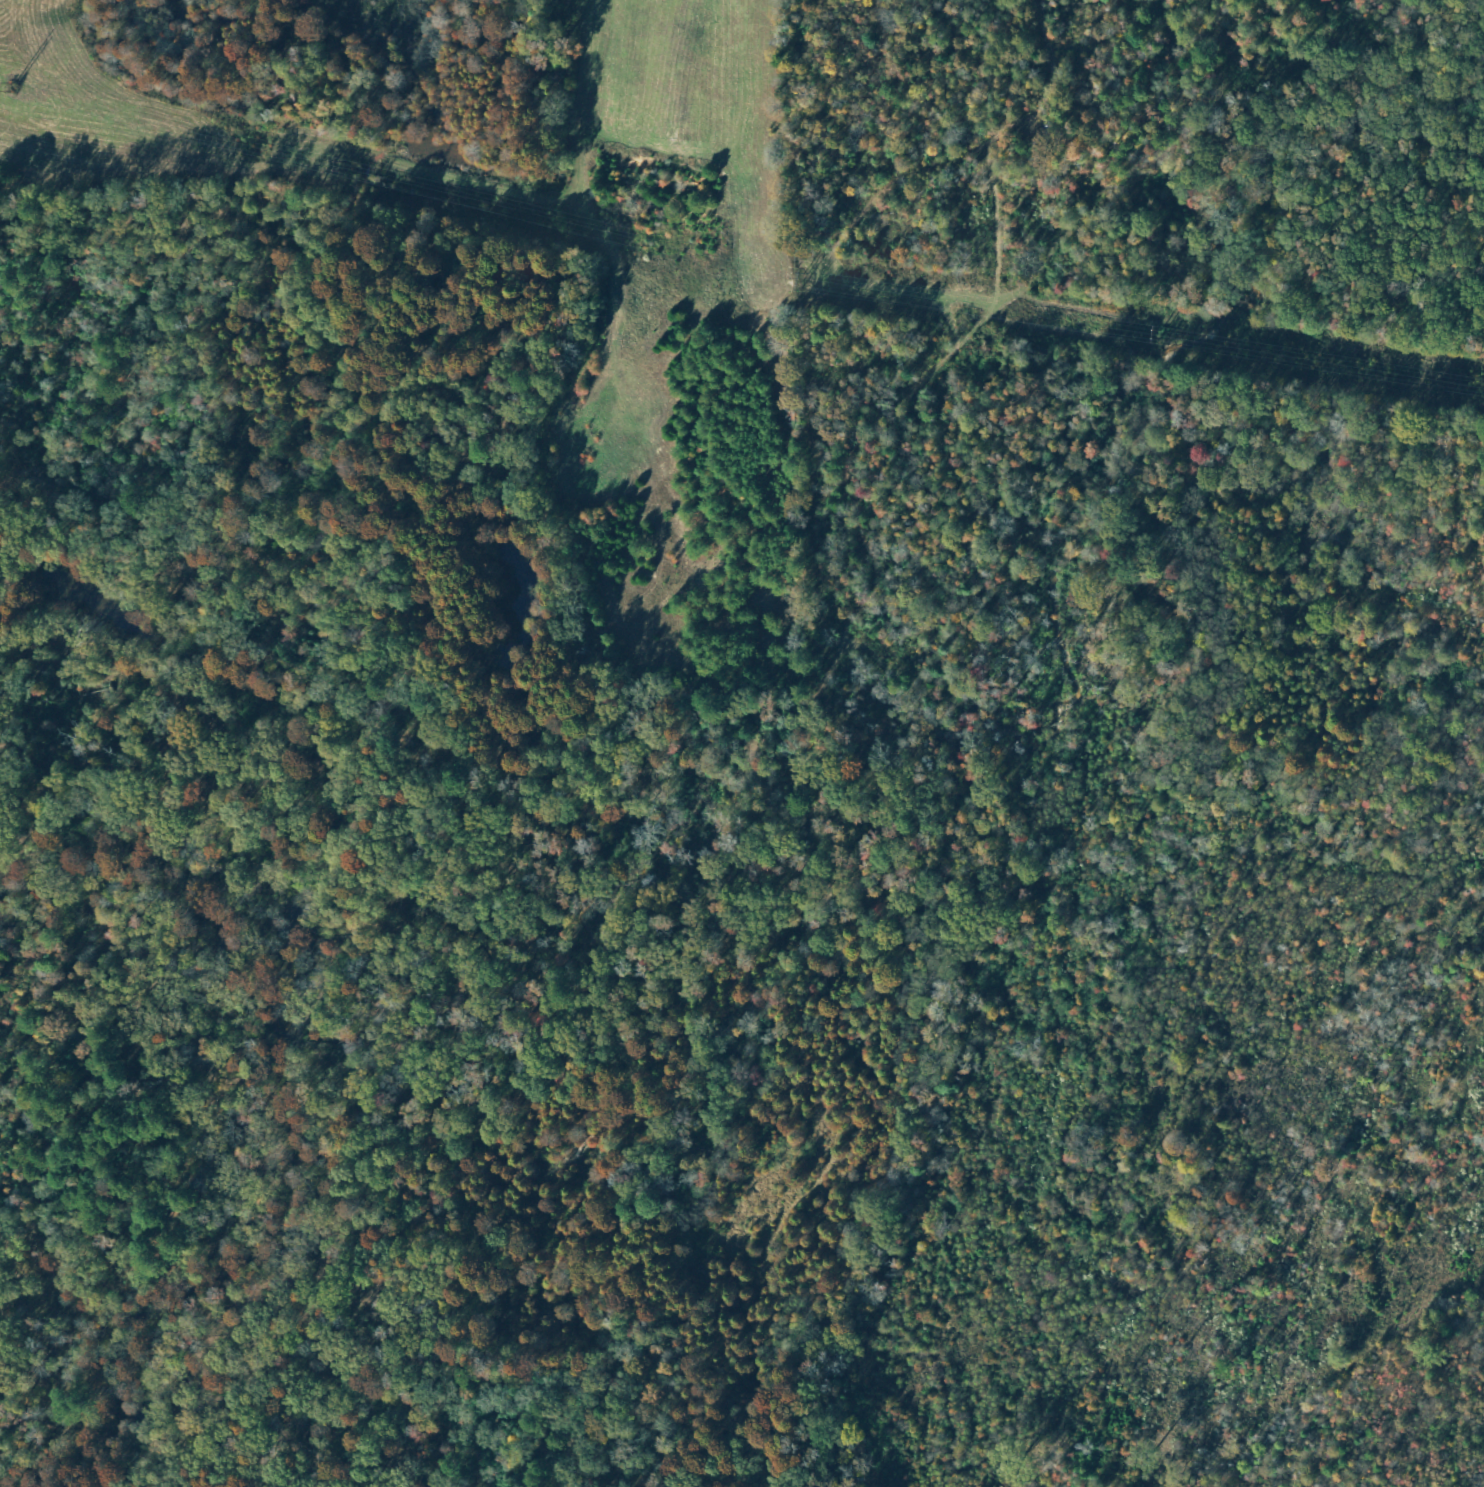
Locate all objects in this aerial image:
power tower: (18, 82)
power tower: (350, 163)
power tower: (804, 271)
power tower: (1165, 333)
river: (210, 1111)

